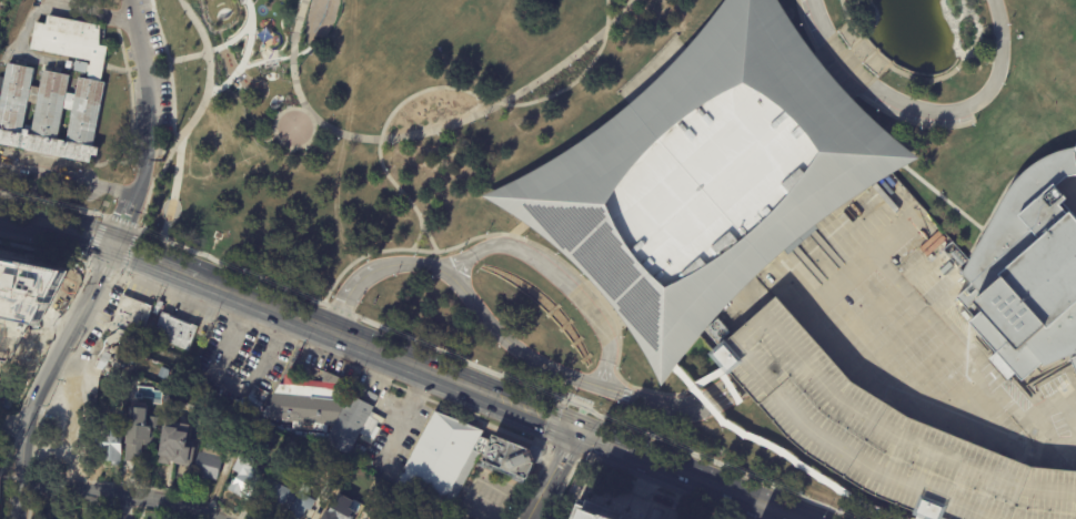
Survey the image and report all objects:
road: (56, 4)
road: (843, 4)
road: (129, 9)
road: (872, 14)
road: (958, 19)
park: (10, 21)
road: (296, 24)
road: (977, 27)
road: (952, 29)
road: (232, 40)
road: (244, 55)
road: (188, 57)
road: (983, 59)
road: (162, 62)
building: (70, 65)
road: (144, 65)
parking lot: (144, 67)
road: (842, 68)
road: (130, 69)
road: (898, 72)
building: (1033, 74)
road: (832, 82)
road: (209, 83)
building: (57, 93)
road: (130, 94)
road: (862, 96)
building: (1056, 100)
road: (400, 104)
road: (922, 109)
road: (292, 110)
road: (172, 118)
road: (451, 123)
road: (145, 133)
park: (1000, 143)
building: (1074, 152)
road: (885, 155)
road: (142, 157)
road: (62, 159)
power tower: (161, 160)
building: (713, 177)
road: (68, 179)
road: (175, 185)
road: (1027, 189)
park: (440, 191)
road: (943, 199)
road: (61, 206)
road: (16, 217)
road: (529, 220)
road: (517, 230)
road: (71, 232)
road: (430, 238)
traffic signals: (111, 245)
road: (152, 262)
building: (1026, 272)
road: (586, 273)
road: (557, 278)
building: (32, 284)
road: (595, 292)
road: (607, 292)
road: (602, 297)
road: (262, 305)
fountain: (534, 316)
building: (129, 322)
parking lot: (915, 329)
building: (177, 332)
road: (818, 333)
road: (676, 339)
road: (511, 343)
road: (958, 352)
road: (844, 359)
road: (411, 365)
road: (490, 369)
road: (46, 376)
road: (872, 383)
road: (231, 386)
building: (321, 410)
building: (251, 411)
road: (405, 414)
road: (612, 414)
road: (533, 416)
road: (12, 421)
building: (140, 432)
traffic signals: (573, 432)
building: (878, 435)
parking lot: (878, 435)
building: (109, 444)
road: (603, 444)
building: (177, 446)
building: (291, 446)
building: (505, 458)
building: (440, 460)
building: (209, 465)
park: (11, 474)
building: (241, 474)
road: (550, 475)
road: (480, 477)
road: (713, 487)
building: (326, 490)
building: (279, 492)
road: (120, 493)
building: (300, 507)
building: (338, 509)
building: (589, 513)

